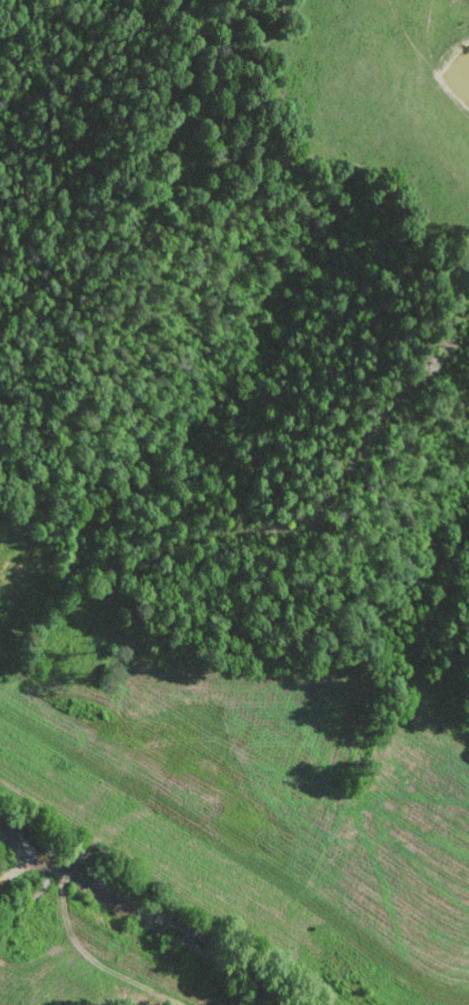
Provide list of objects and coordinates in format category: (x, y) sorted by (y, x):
road: (180, 903)

